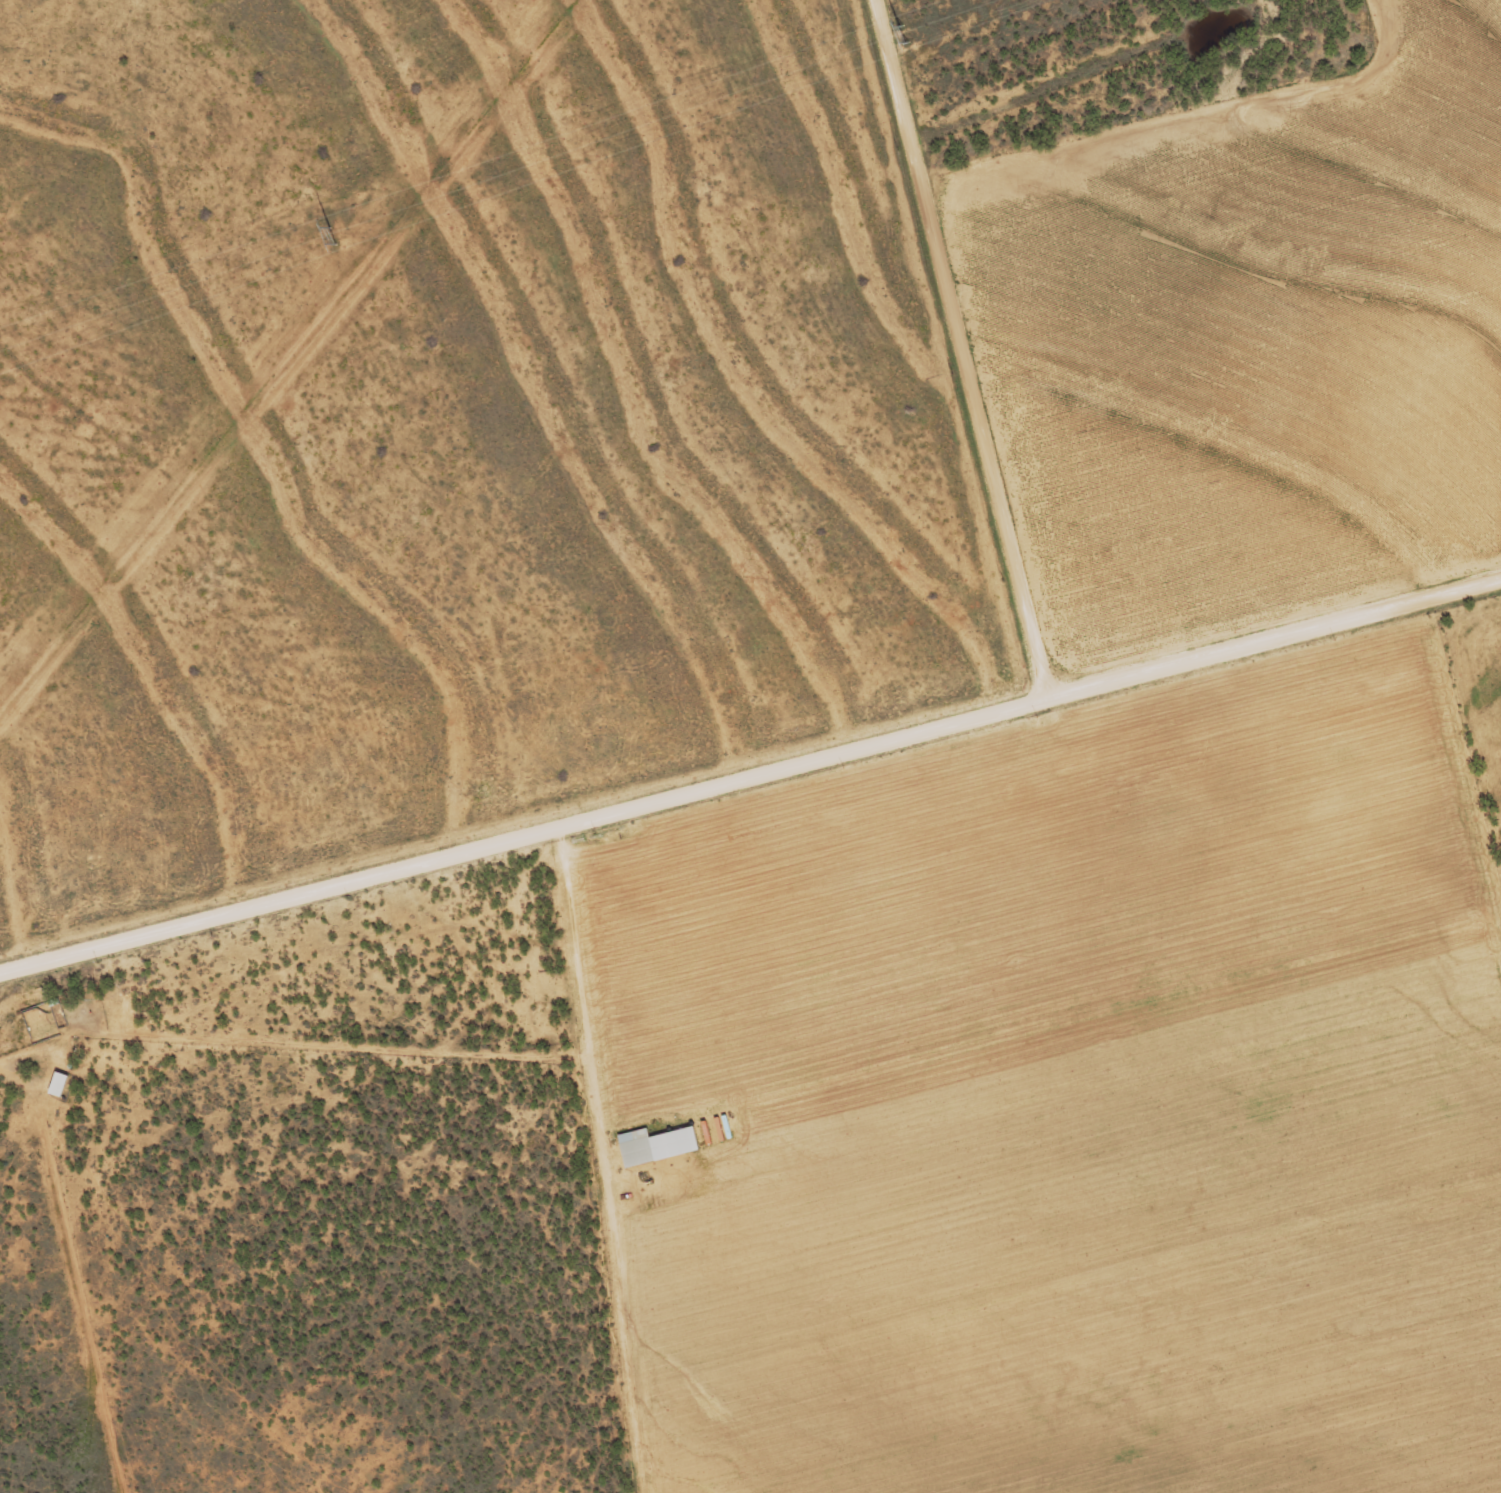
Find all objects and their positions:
power tower: (900, 35)
power tower: (334, 236)
road: (949, 354)
road: (748, 787)
building: (636, 1148)

